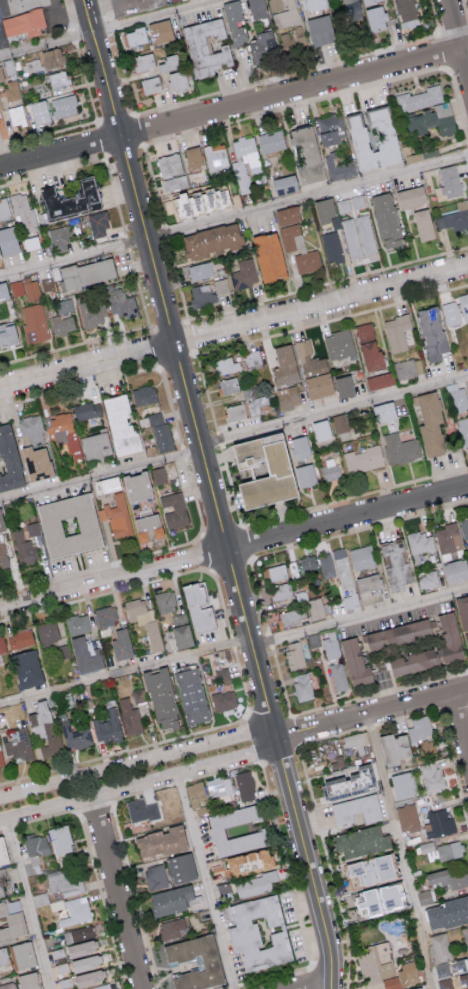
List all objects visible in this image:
building: (312, 5)
building: (256, 9)
building: (404, 9)
road: (3, 11)
building: (283, 12)
road: (63, 13)
building: (374, 18)
building: (233, 22)
building: (28, 25)
road: (114, 29)
building: (159, 30)
building: (319, 30)
building: (135, 36)
building: (292, 39)
road: (457, 39)
building: (261, 45)
building: (204, 48)
road: (1, 49)
building: (52, 57)
building: (139, 63)
building: (31, 66)
building: (1, 74)
building: (58, 79)
building: (177, 80)
building: (150, 85)
building: (11, 90)
building: (419, 98)
building: (63, 106)
road: (233, 106)
building: (38, 112)
building: (16, 116)
building: (431, 120)
building: (328, 128)
building: (384, 137)
building: (271, 141)
building: (305, 154)
building: (216, 156)
building: (193, 157)
building: (245, 162)
building: (168, 165)
building: (337, 169)
building: (449, 180)
building: (174, 183)
building: (283, 184)
building: (409, 197)
building: (70, 198)
building: (200, 202)
building: (342, 205)
building: (4, 209)
building: (324, 209)
building: (23, 212)
road: (233, 215)
building: (286, 215)
building: (454, 217)
building: (385, 220)
building: (98, 223)
building: (422, 224)
building: (366, 234)
building: (351, 238)
building: (59, 239)
building: (7, 240)
building: (210, 241)
building: (32, 242)
building: (331, 247)
building: (299, 249)
building: (268, 256)
building: (200, 270)
building: (87, 273)
building: (244, 274)
building: (221, 286)
building: (16, 288)
building: (32, 288)
building: (3, 291)
building: (201, 295)
building: (119, 303)
building: (63, 305)
building: (463, 305)
building: (92, 313)
building: (450, 313)
building: (33, 323)
building: (62, 325)
road: (234, 330)
building: (7, 333)
building: (396, 333)
building: (431, 333)
building: (339, 344)
building: (368, 347)
building: (252, 358)
building: (223, 365)
building: (284, 365)
building: (408, 368)
road: (180, 369)
building: (313, 371)
building: (380, 380)
building: (228, 385)
building: (343, 386)
building: (144, 395)
building: (288, 396)
building: (458, 398)
building: (256, 404)
building: (86, 410)
building: (234, 412)
building: (383, 412)
building: (430, 423)
building: (119, 426)
building: (31, 429)
building: (321, 430)
building: (463, 430)
building: (63, 432)
building: (160, 433)
road: (233, 439)
building: (94, 446)
building: (299, 447)
building: (400, 448)
building: (9, 458)
building: (362, 459)
building: (34, 464)
building: (330, 469)
building: (275, 473)
building: (158, 475)
building: (304, 475)
building: (172, 483)
building: (107, 484)
building: (135, 487)
building: (173, 510)
building: (103, 514)
building: (119, 521)
building: (1, 524)
building: (68, 526)
building: (464, 527)
building: (33, 528)
building: (146, 528)
building: (448, 538)
building: (467, 544)
building: (419, 545)
building: (24, 548)
road: (233, 549)
building: (3, 556)
building: (362, 557)
building: (307, 563)
building: (326, 565)
building: (395, 566)
building: (342, 567)
building: (293, 568)
building: (454, 571)
building: (276, 572)
building: (428, 580)
building: (368, 582)
building: (280, 590)
building: (372, 595)
building: (351, 601)
building: (164, 602)
building: (197, 607)
building: (315, 608)
building: (462, 612)
building: (106, 616)
building: (293, 617)
road: (359, 618)
building: (144, 621)
building: (77, 624)
building: (180, 631)
building: (48, 632)
building: (396, 635)
building: (20, 639)
building: (448, 639)
building: (466, 639)
building: (313, 640)
building: (120, 644)
building: (2, 645)
building: (329, 645)
building: (294, 655)
building: (85, 656)
building: (412, 662)
building: (354, 664)
building: (27, 669)
road: (125, 674)
building: (223, 676)
building: (338, 676)
building: (302, 687)
building: (138, 695)
building: (191, 695)
building: (161, 698)
building: (223, 700)
road: (371, 714)
building: (130, 716)
road: (461, 717)
building: (41, 718)
building: (61, 719)
building: (108, 727)
building: (420, 728)
building: (78, 738)
building: (356, 740)
building: (52, 746)
building: (393, 746)
building: (1, 758)
road: (125, 765)
building: (430, 775)
road: (151, 779)
building: (346, 782)
building: (402, 784)
building: (244, 785)
building: (218, 786)
building: (195, 793)
building: (356, 808)
building: (141, 809)
building: (407, 817)
building: (439, 823)
building: (253, 833)
building: (59, 838)
building: (160, 840)
building: (360, 840)
building: (35, 844)
building: (427, 846)
building: (449, 850)
road: (402, 851)
building: (2, 852)
building: (247, 860)
road: (306, 863)
building: (32, 865)
building: (180, 866)
building: (369, 868)
building: (155, 876)
building: (447, 878)
building: (66, 881)
road: (204, 881)
building: (255, 883)
building: (1, 886)
road: (116, 892)
building: (424, 897)
building: (380, 898)
building: (173, 899)
road: (27, 903)
building: (56, 904)
building: (75, 911)
building: (447, 912)
building: (11, 923)
building: (169, 928)
building: (256, 931)
building: (79, 934)
building: (465, 937)
building: (82, 947)
building: (440, 947)
building: (58, 952)
building: (22, 954)
building: (3, 956)
building: (209, 958)
road: (313, 960)
building: (375, 961)
building: (85, 962)
building: (462, 962)
building: (61, 967)
building: (442, 969)
building: (411, 975)
building: (89, 977)
building: (27, 980)
building: (65, 982)
building: (391, 983)
building: (444, 983)
building: (7, 985)
road: (319, 985)
building: (102, 986)
building: (416, 987)
building: (467, 988)

